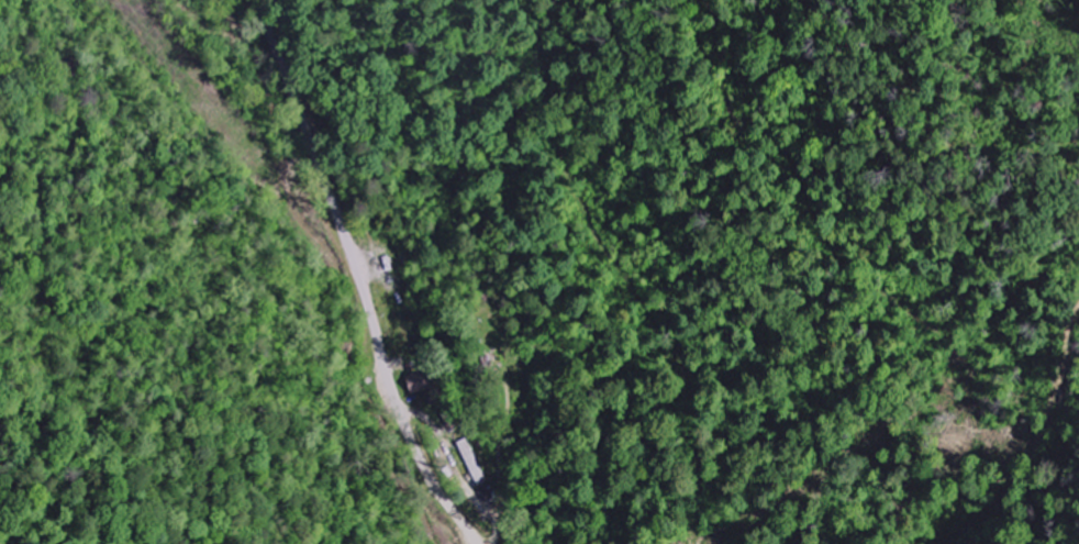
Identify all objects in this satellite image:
road: (358, 276)

